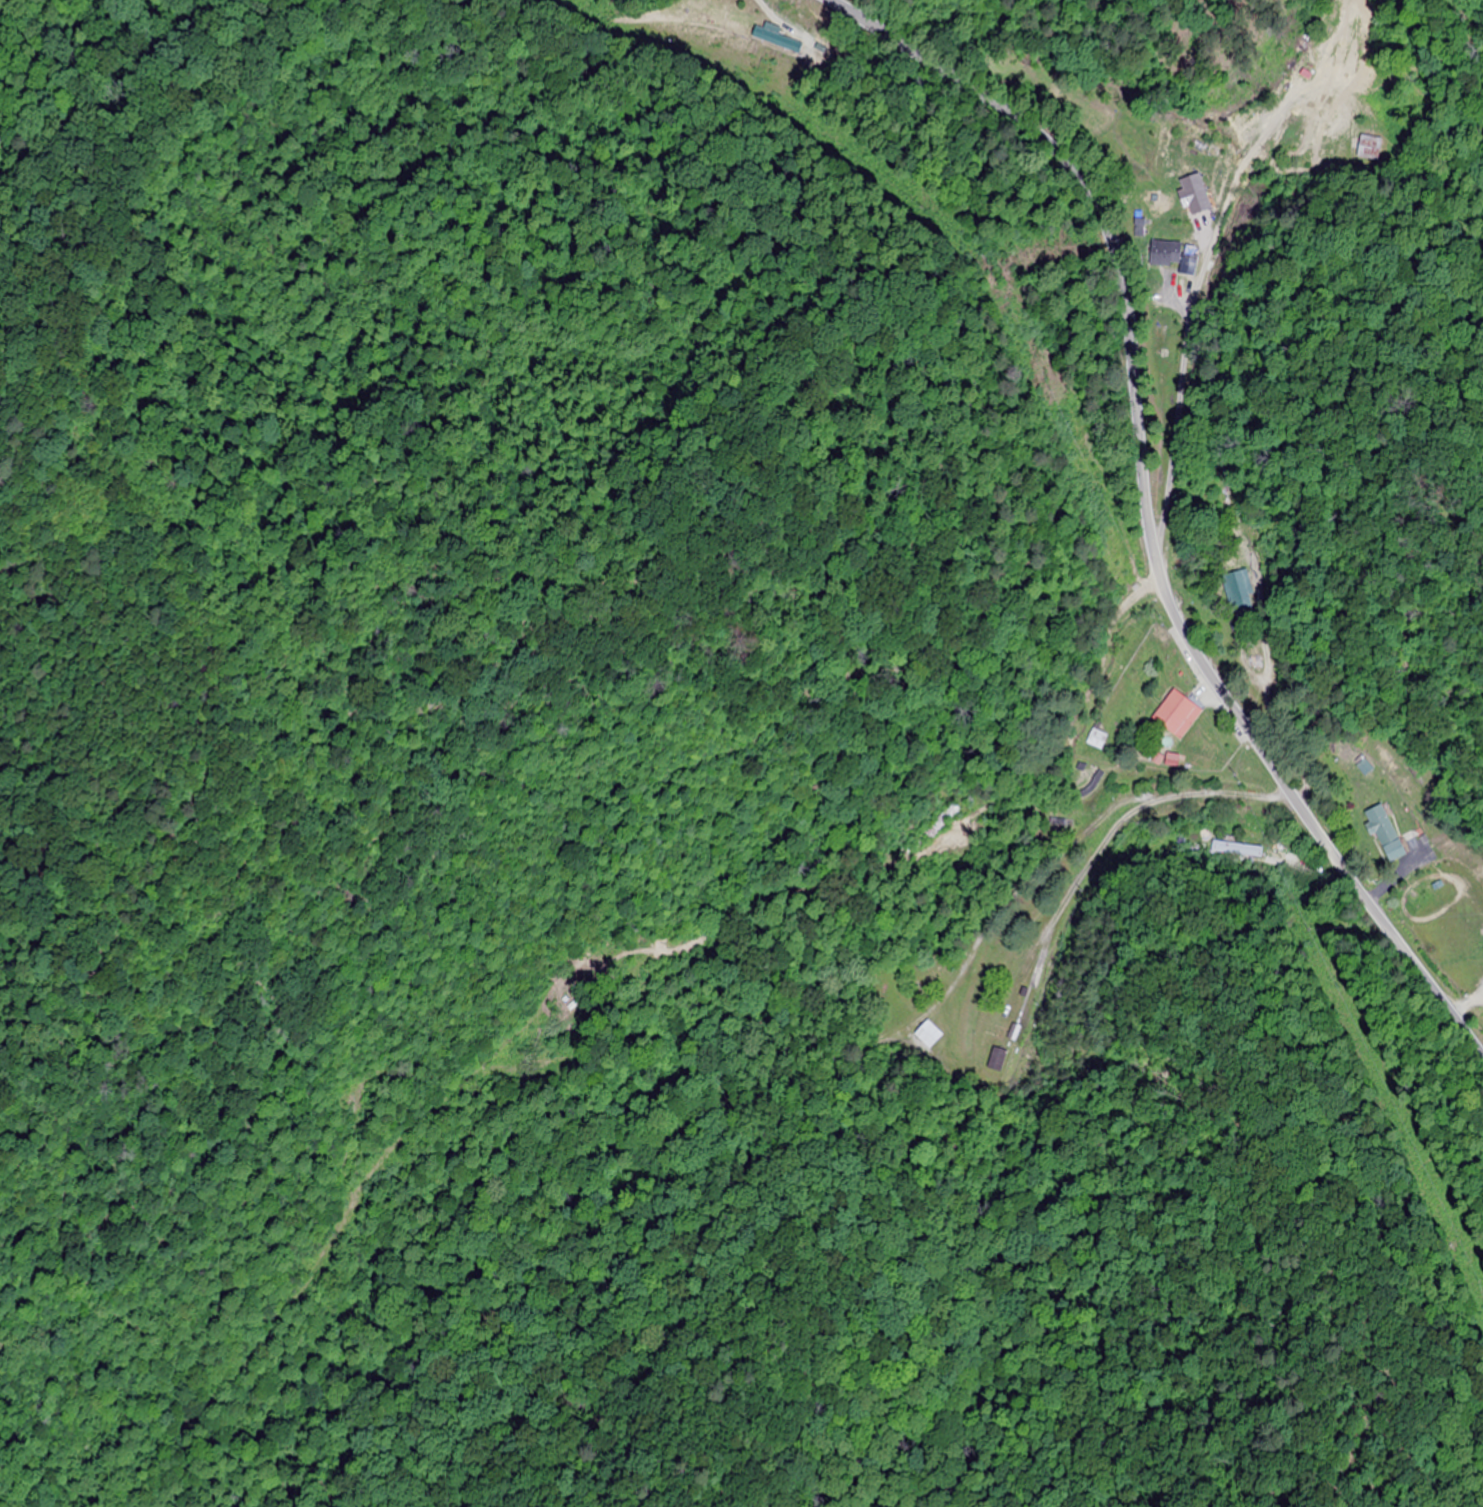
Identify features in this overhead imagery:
building: (780, 37)
building: (1326, 108)
building: (1167, 251)
building: (1182, 265)
road: (1158, 512)
building: (1237, 592)
building: (1175, 716)
building: (1096, 740)
building: (940, 822)
building: (1382, 835)
building: (929, 1035)
building: (995, 1063)

